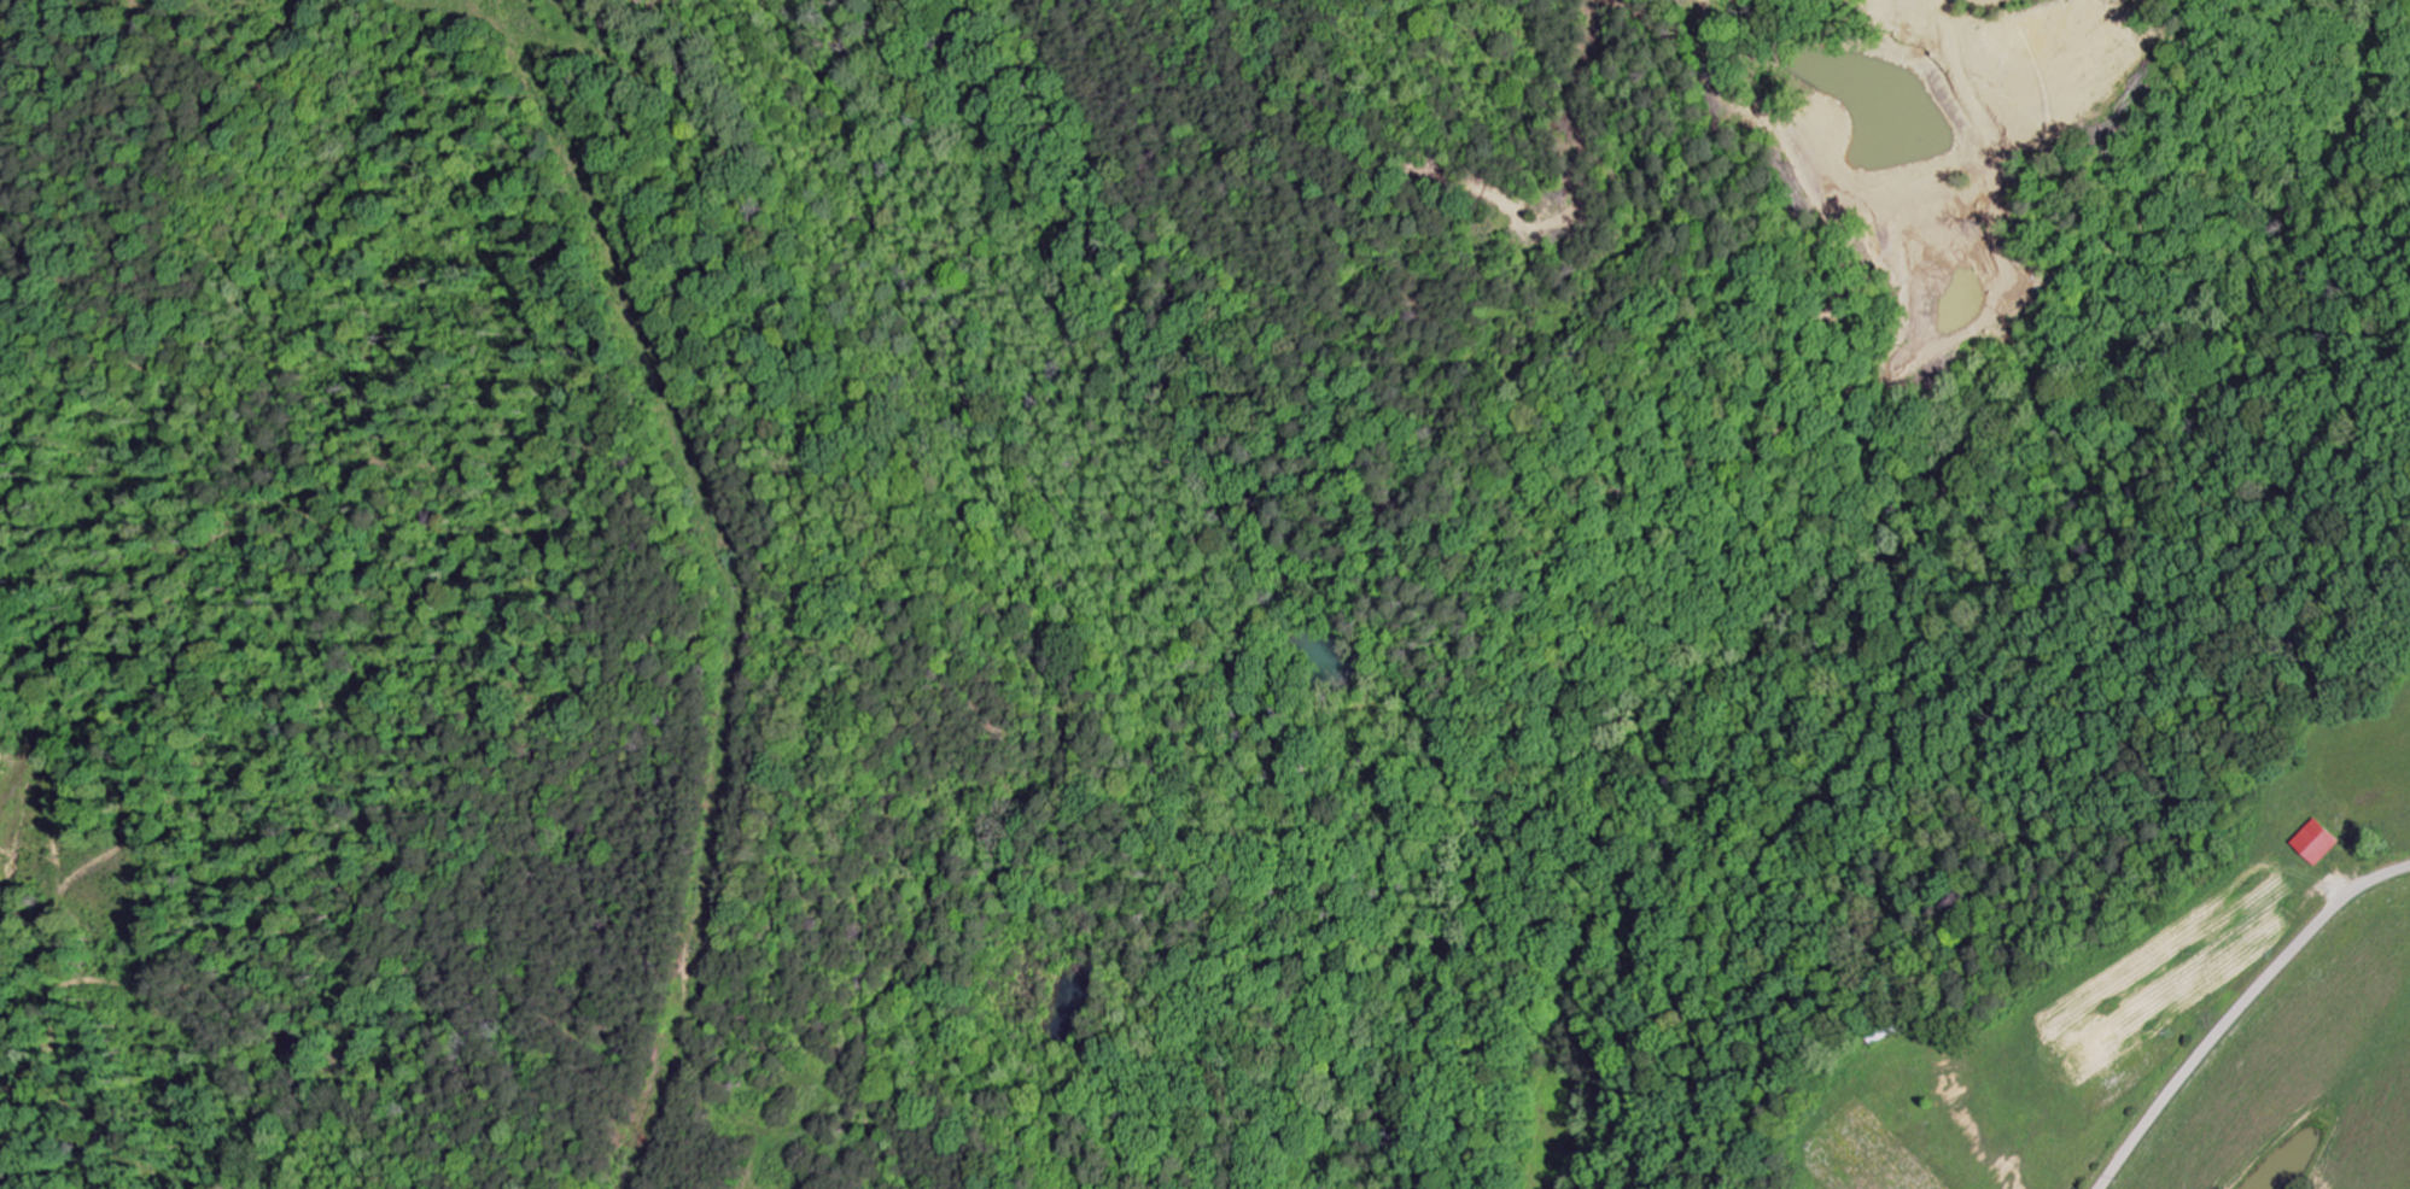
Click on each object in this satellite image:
building: (2312, 843)
road: (2240, 1011)

